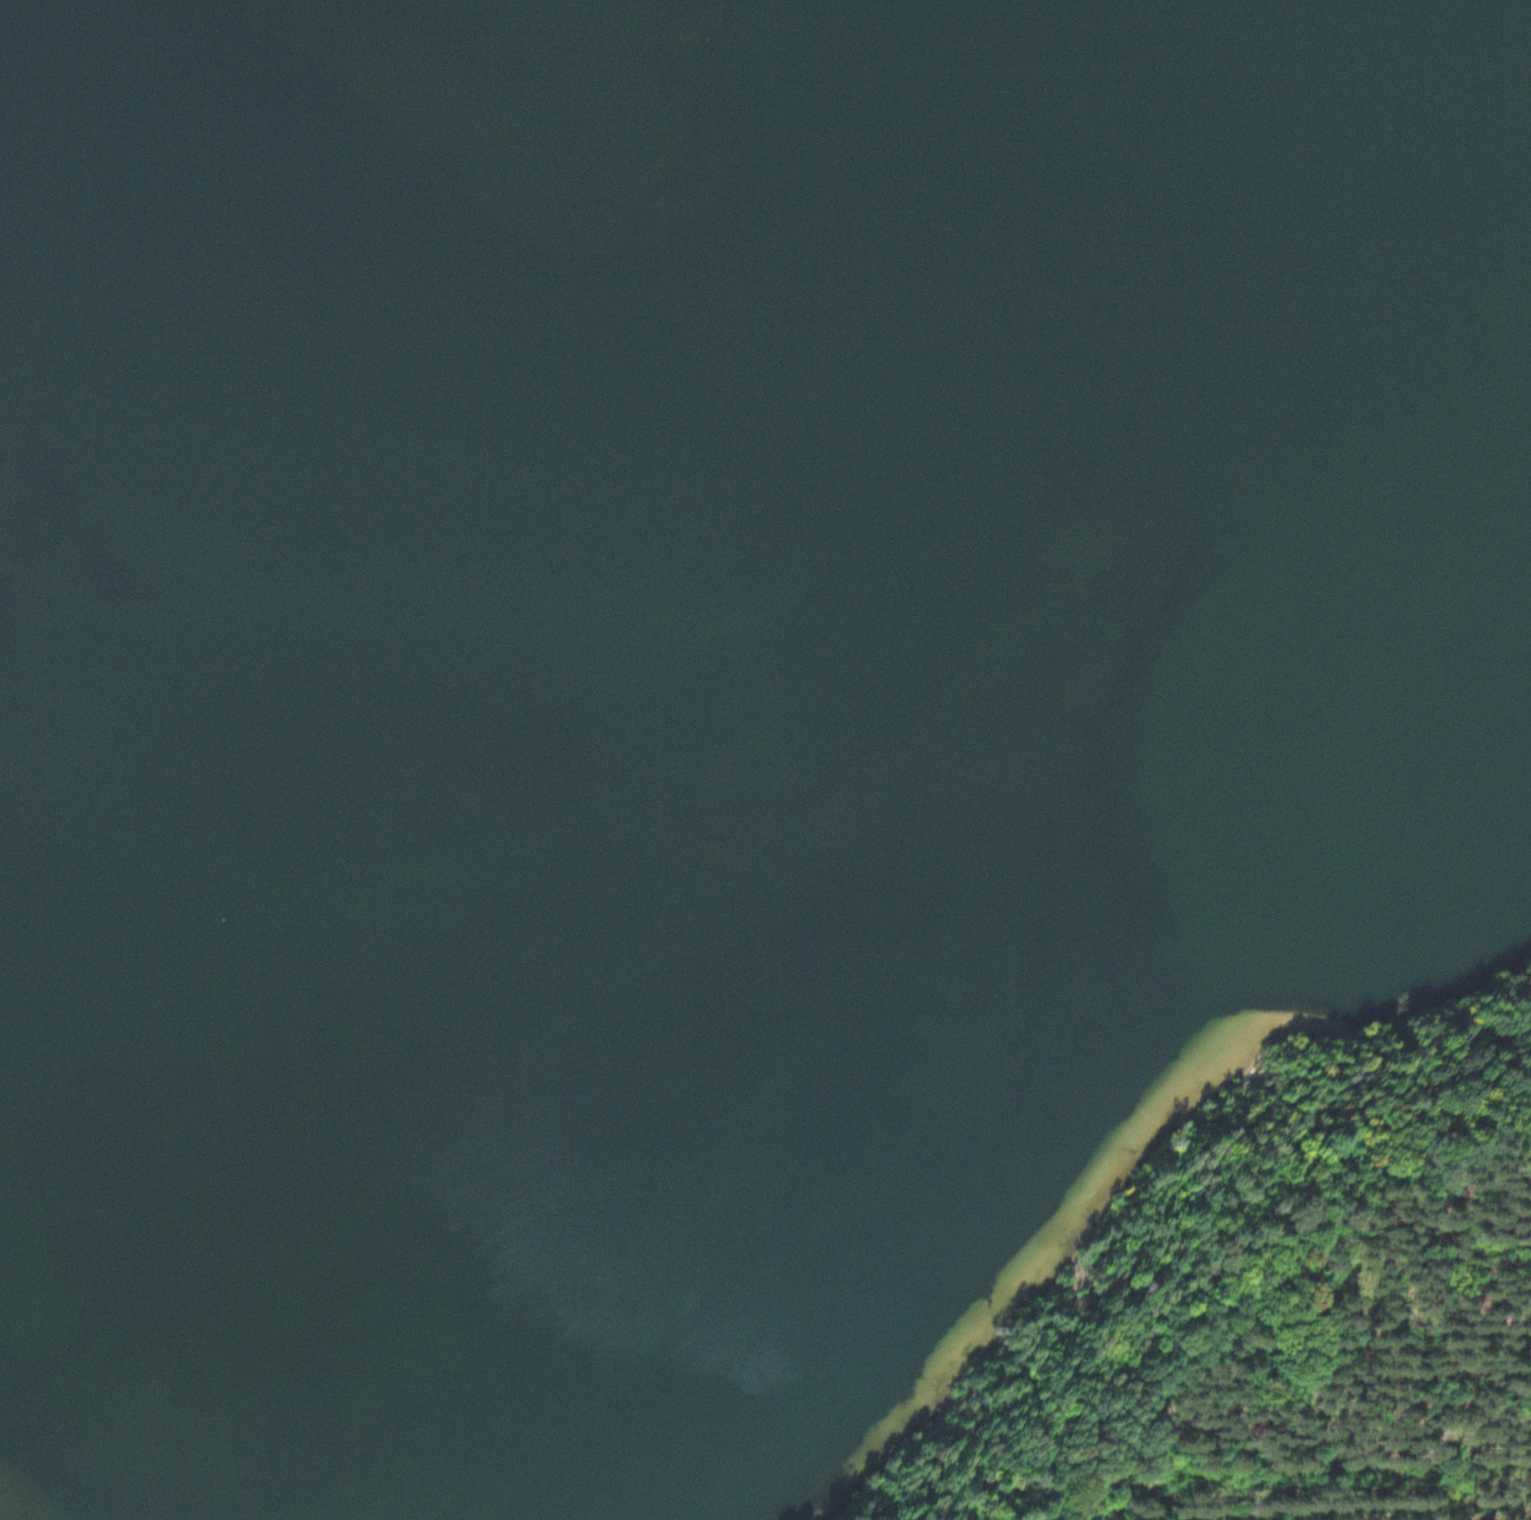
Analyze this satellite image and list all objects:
road: (1461, 1415)

